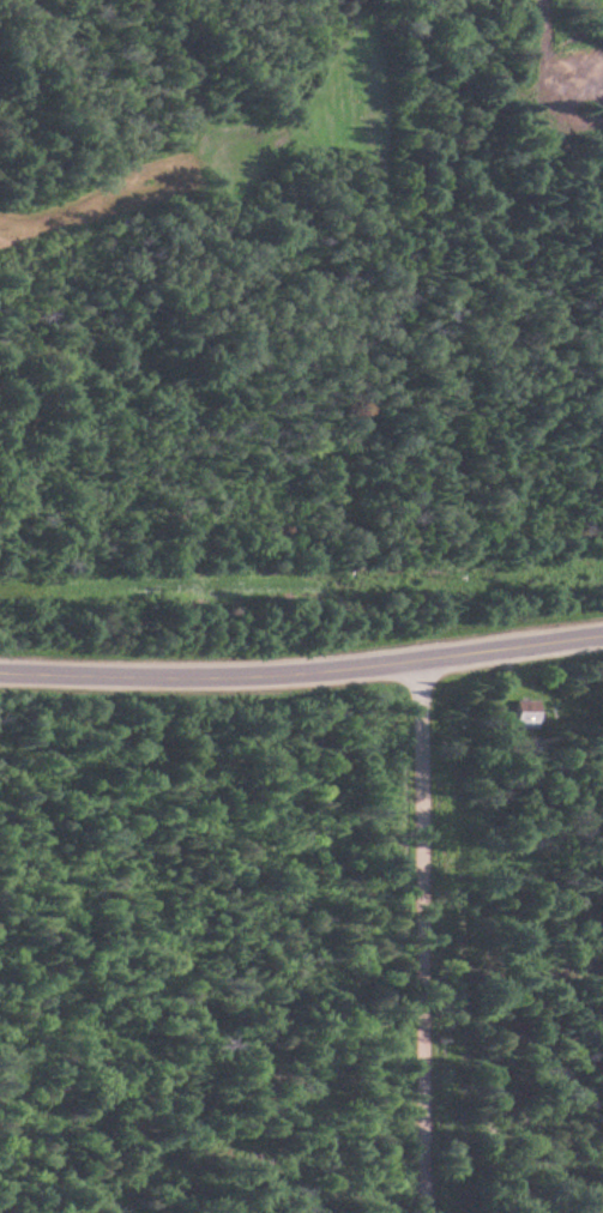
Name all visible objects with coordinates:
road: (76, 304)
road: (302, 670)
building: (531, 713)
road: (434, 937)

